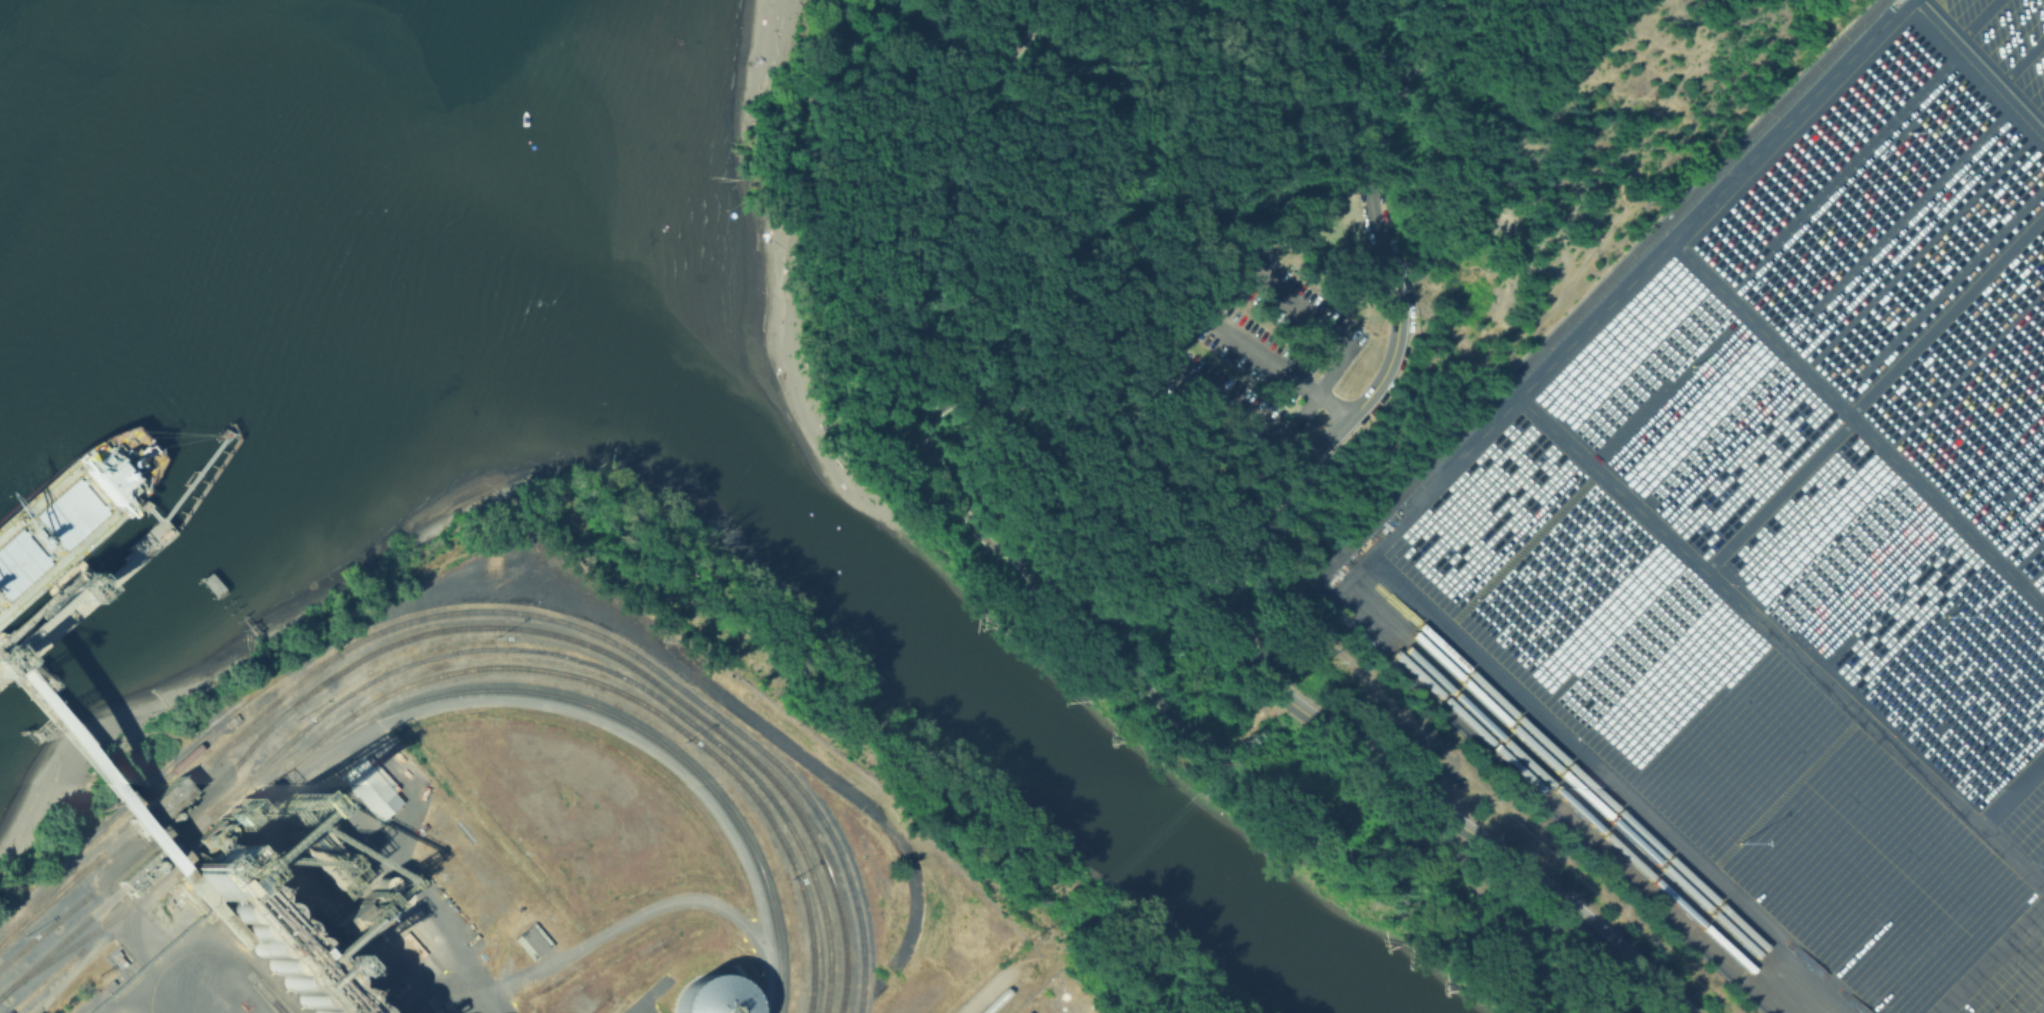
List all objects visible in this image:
road: (1976, 19)
road: (1427, 38)
road: (1348, 43)
road: (2022, 59)
road: (1983, 64)
road: (2043, 124)
road: (936, 181)
road: (1198, 309)
parking lot: (1247, 343)
road: (880, 347)
road: (839, 348)
park: (1230, 366)
road: (1273, 366)
road: (850, 390)
road: (1068, 415)
road: (1858, 421)
road: (942, 483)
pier: (203, 485)
pier: (145, 512)
road: (1400, 519)
pier: (83, 591)
pier: (20, 606)
railway: (488, 611)
pier: (239, 615)
road: (1234, 621)
railway: (475, 628)
road: (1783, 642)
road: (1100, 647)
railway: (457, 670)
railway: (606, 670)
railway: (445, 694)
railway: (272, 716)
railway: (299, 759)
road: (678, 770)
pier: (72, 772)
railway: (158, 781)
building: (368, 790)
road: (2013, 793)
building: (153, 802)
railway: (1625, 819)
railway: (1611, 822)
building: (174, 827)
railway: (1593, 827)
railway: (1585, 831)
building: (312, 842)
road: (209, 847)
road: (2036, 867)
building: (145, 871)
building: (208, 873)
road: (404, 880)
building: (373, 885)
railway: (47, 889)
building: (386, 897)
building: (350, 921)
building: (533, 940)
building: (277, 948)
silo: (277, 948)
railway: (26, 951)
road: (1989, 958)
road: (185, 974)
railway: (45, 981)
railway: (1003, 995)
building: (712, 996)
silo: (712, 996)

